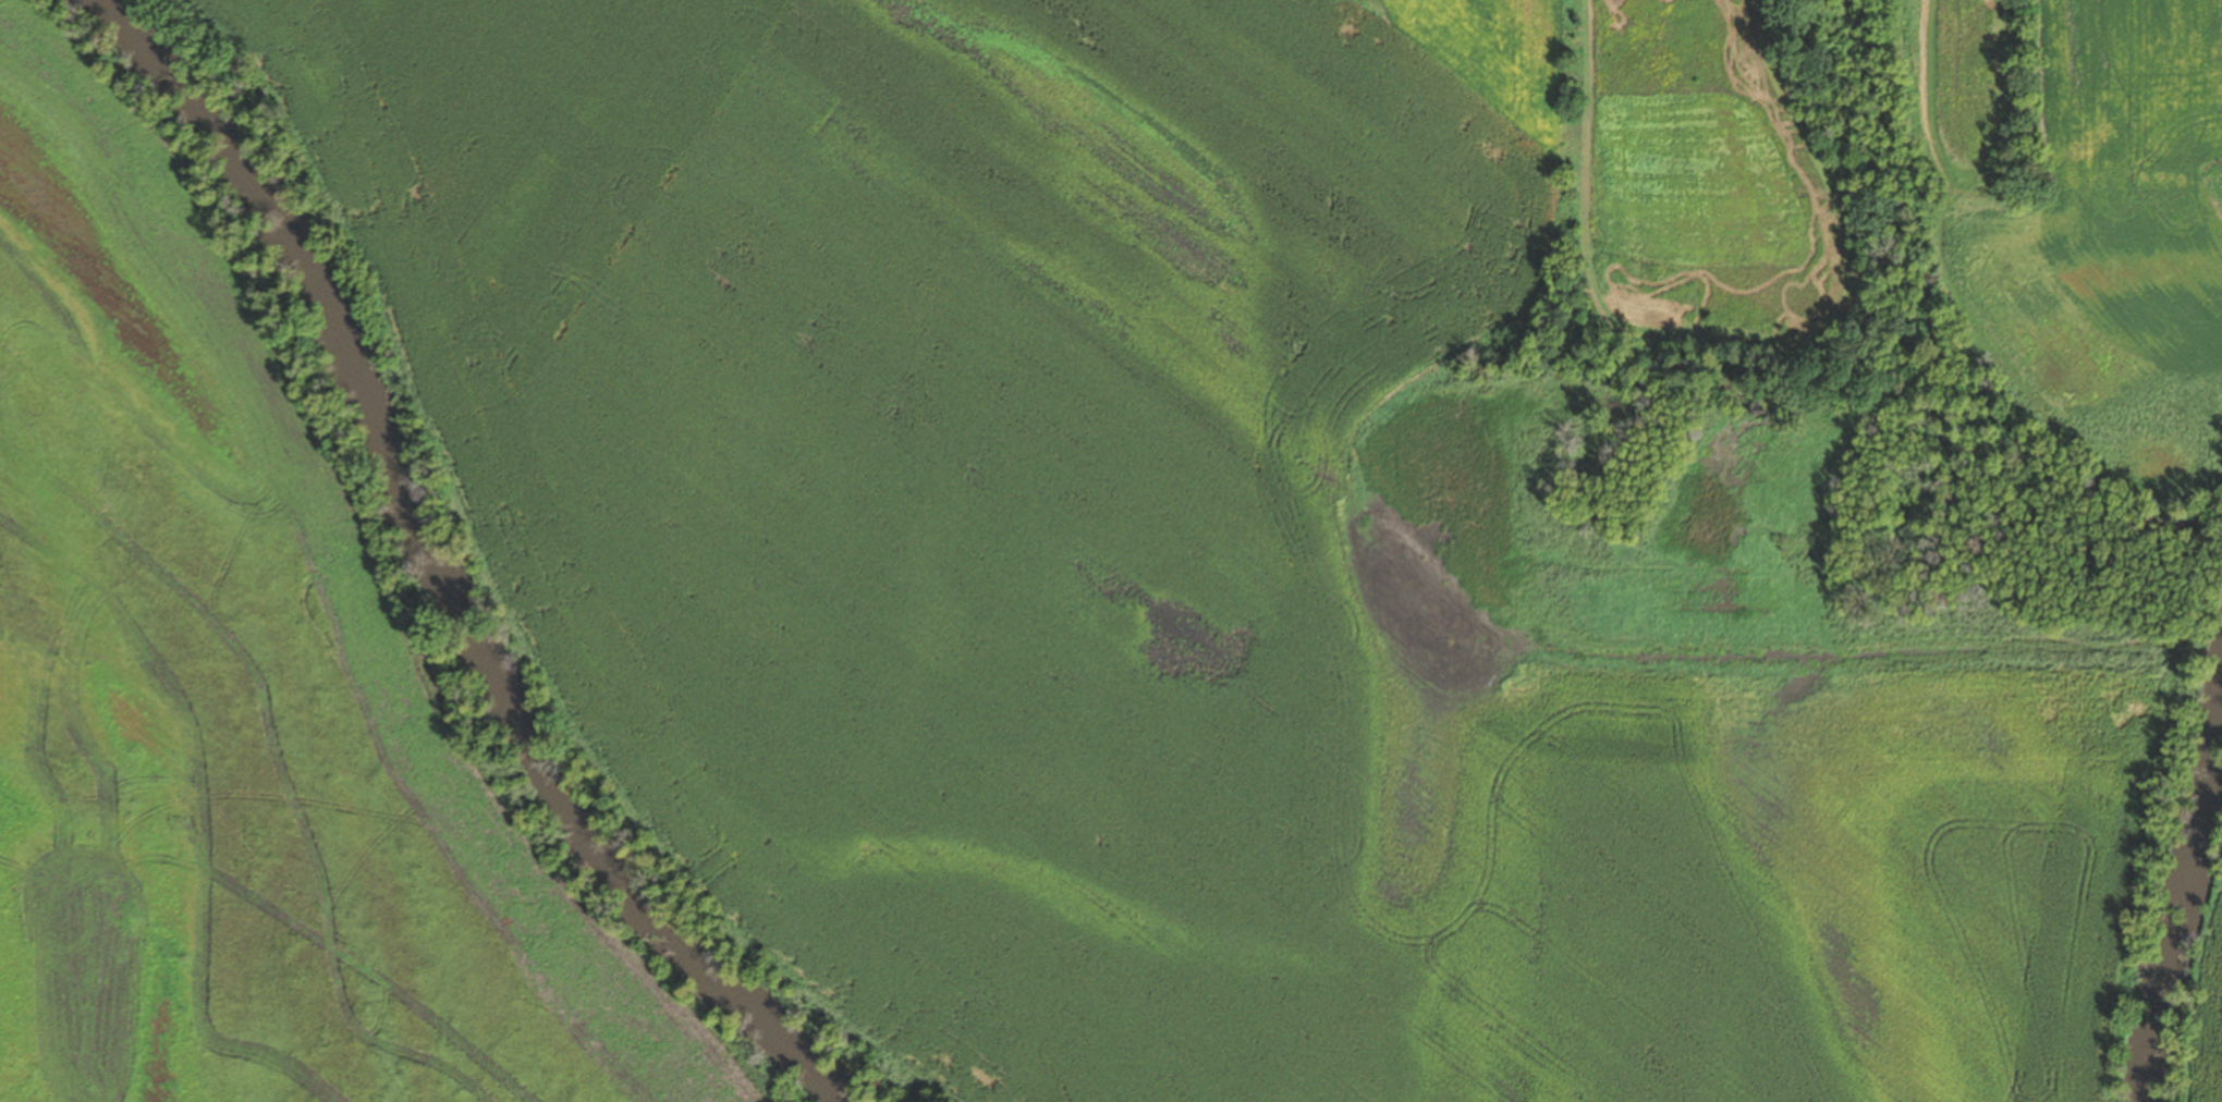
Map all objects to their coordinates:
river: (413, 566)
river: (2177, 871)

